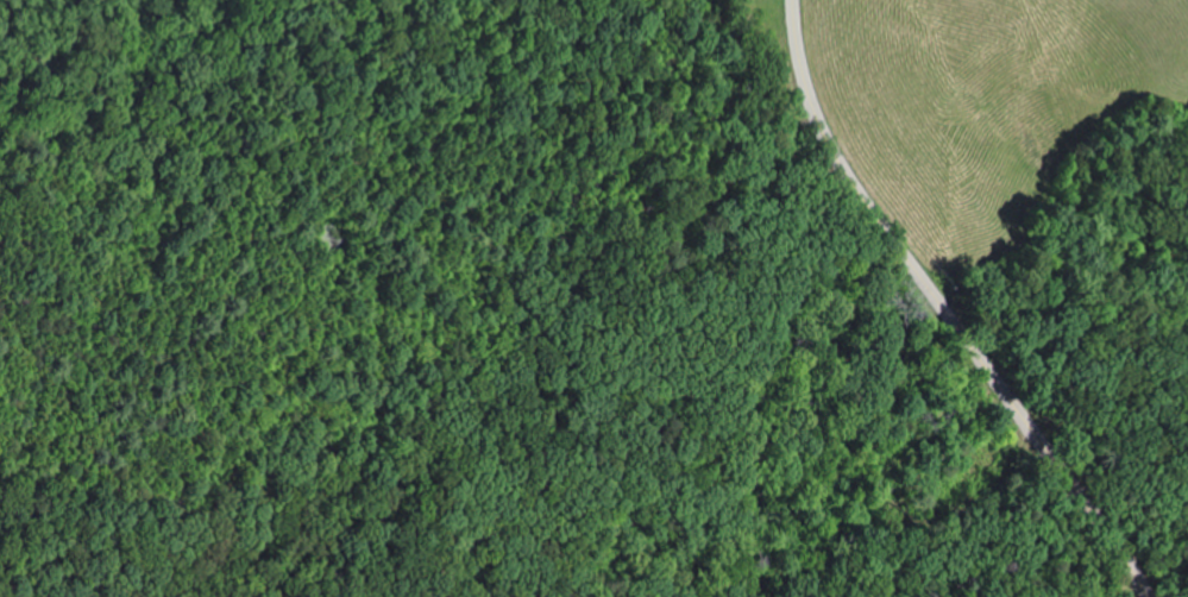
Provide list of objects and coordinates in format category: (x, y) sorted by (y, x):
crop: (981, 102)
road: (944, 309)

